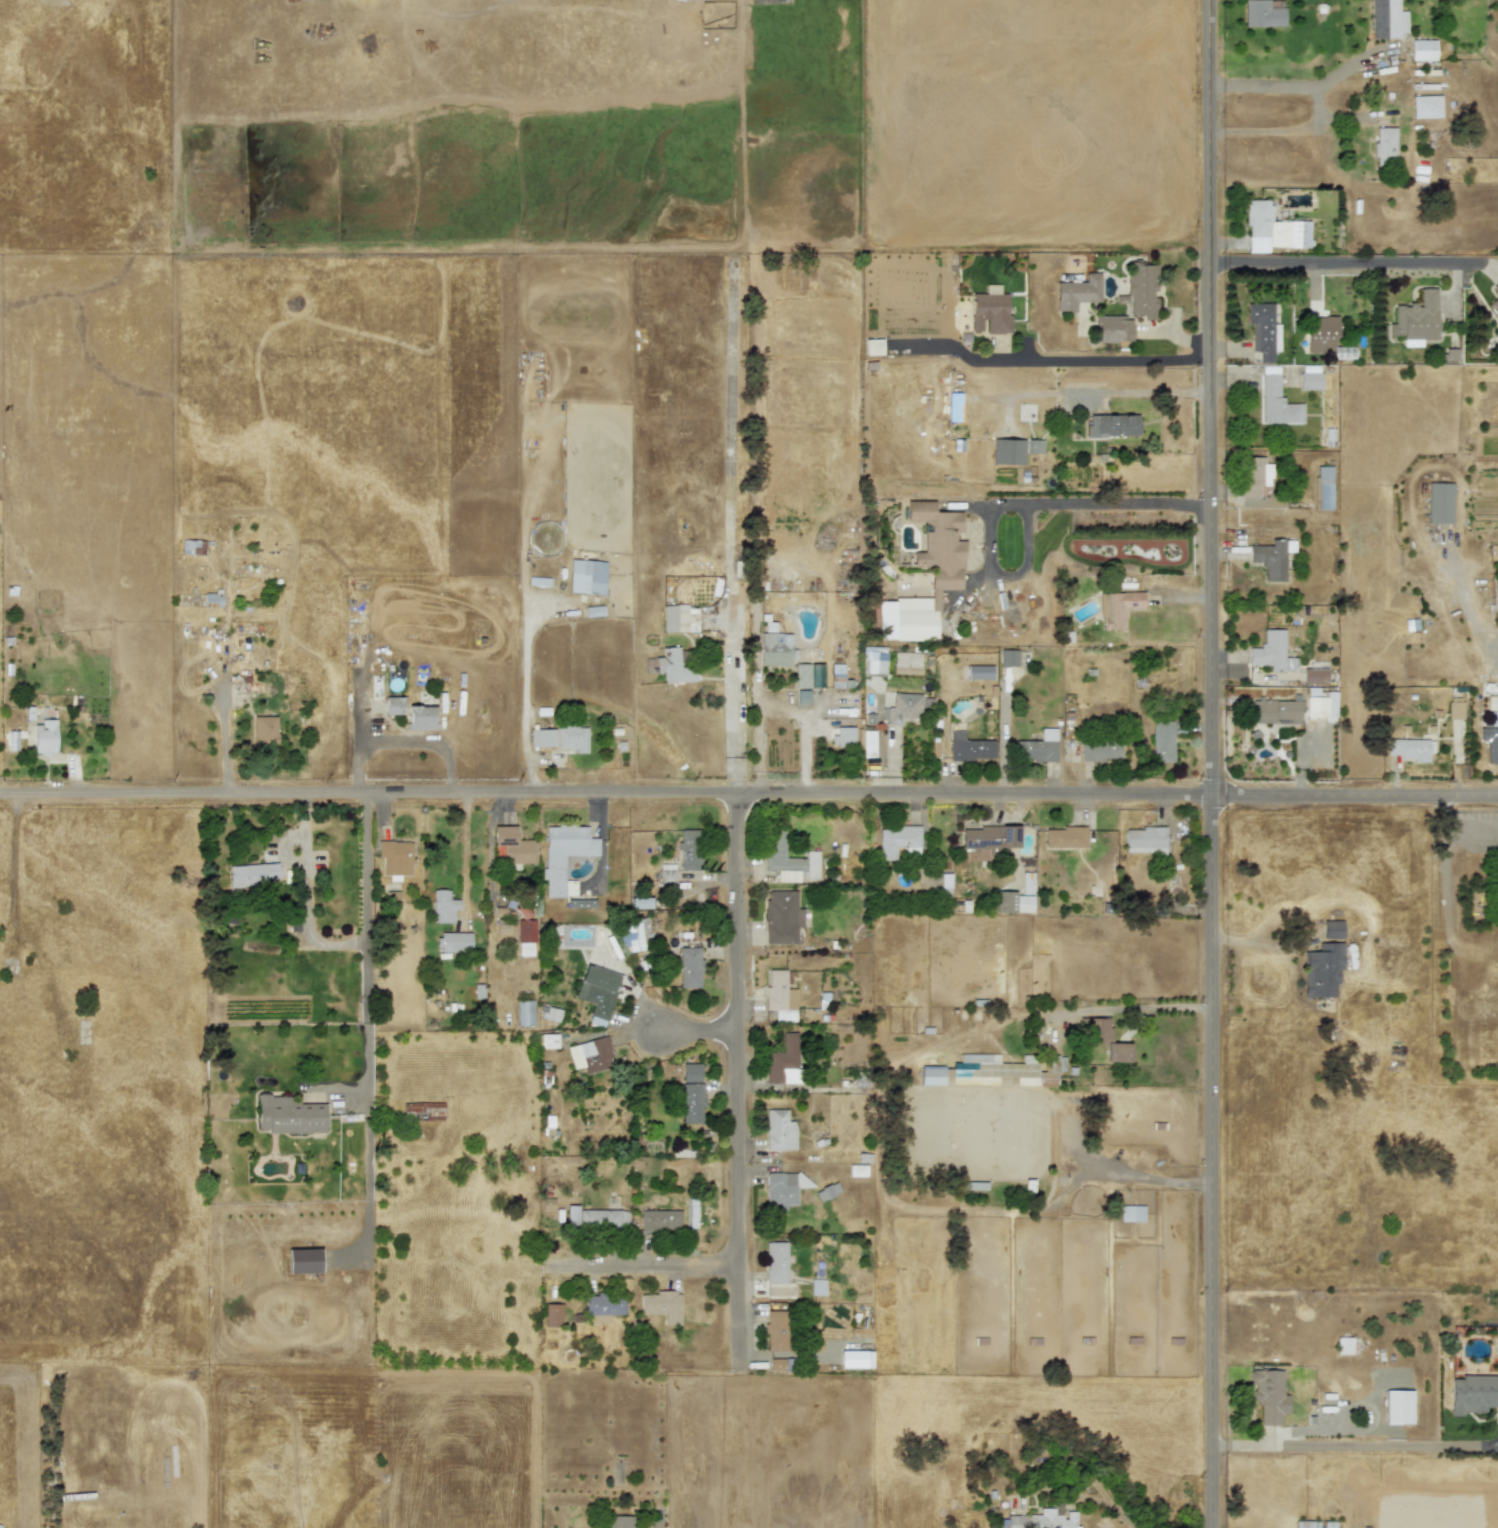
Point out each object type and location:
building: (680, 0)
building: (1262, 14)
building: (1386, 19)
building: (1423, 50)
road: (1297, 86)
building: (1426, 106)
road: (1324, 122)
road: (1263, 130)
building: (1384, 146)
building: (1273, 227)
road: (1343, 264)
building: (1496, 287)
building: (1139, 290)
building: (1077, 292)
building: (1494, 307)
building: (989, 313)
building: (1416, 320)
building: (1114, 329)
building: (1261, 329)
building: (1321, 334)
building: (1276, 337)
building: (873, 347)
road: (1094, 359)
building: (1310, 377)
building: (1277, 400)
building: (1112, 425)
building: (1035, 446)
building: (1005, 451)
building: (1251, 477)
building: (1324, 486)
building: (1440, 503)
road: (1107, 507)
road: (733, 537)
building: (193, 547)
building: (1272, 558)
building: (587, 577)
building: (946, 578)
building: (212, 599)
building: (1117, 608)
building: (679, 618)
building: (775, 649)
building: (1269, 650)
building: (1008, 657)
building: (875, 660)
road: (1489, 661)
building: (907, 663)
building: (674, 667)
building: (979, 672)
building: (816, 675)
building: (801, 676)
building: (837, 676)
building: (1314, 676)
building: (802, 697)
road: (524, 702)
building: (1320, 703)
building: (1492, 703)
building: (394, 705)
road: (775, 707)
building: (903, 710)
building: (1455, 710)
building: (1276, 711)
building: (420, 718)
building: (264, 730)
building: (1497, 733)
building: (843, 736)
building: (44, 737)
building: (542, 738)
building: (572, 738)
building: (1162, 741)
building: (867, 742)
building: (1038, 747)
building: (970, 748)
building: (1408, 749)
building: (1099, 750)
road: (1210, 763)
road: (749, 796)
road: (1456, 831)
building: (990, 837)
building: (1064, 837)
building: (1145, 840)
building: (897, 841)
building: (512, 846)
building: (688, 849)
building: (563, 853)
building: (395, 857)
building: (789, 861)
building: (667, 874)
building: (253, 875)
building: (1027, 883)
road: (302, 896)
building: (641, 902)
building: (1013, 902)
building: (580, 903)
building: (443, 907)
building: (782, 917)
building: (506, 926)
building: (1332, 929)
building: (524, 931)
building: (635, 935)
building: (454, 942)
road: (367, 951)
building: (689, 967)
building: (1322, 969)
building: (1497, 976)
building: (597, 991)
building: (779, 996)
road: (1140, 1008)
building: (524, 1013)
building: (551, 1014)
road: (701, 1036)
building: (1103, 1039)
building: (549, 1041)
building: (590, 1055)
building: (783, 1062)
building: (992, 1071)
building: (691, 1072)
road: (740, 1088)
building: (691, 1103)
building: (426, 1109)
building: (289, 1115)
building: (414, 1116)
building: (779, 1130)
road: (1148, 1180)
building: (783, 1188)
building: (827, 1191)
building: (1131, 1213)
building: (595, 1219)
building: (660, 1220)
building: (304, 1261)
building: (776, 1262)
road: (640, 1272)
building: (817, 1287)
building: (662, 1306)
building: (603, 1308)
building: (552, 1315)
building: (777, 1330)
building: (1344, 1346)
building: (855, 1359)
building: (776, 1364)
building: (1473, 1394)
building: (1269, 1395)
building: (1398, 1407)
road: (1354, 1445)
road: (1110, 1513)
building: (1052, 1519)
building: (619, 1521)
building: (1016, 1522)
building: (1314, 1524)

